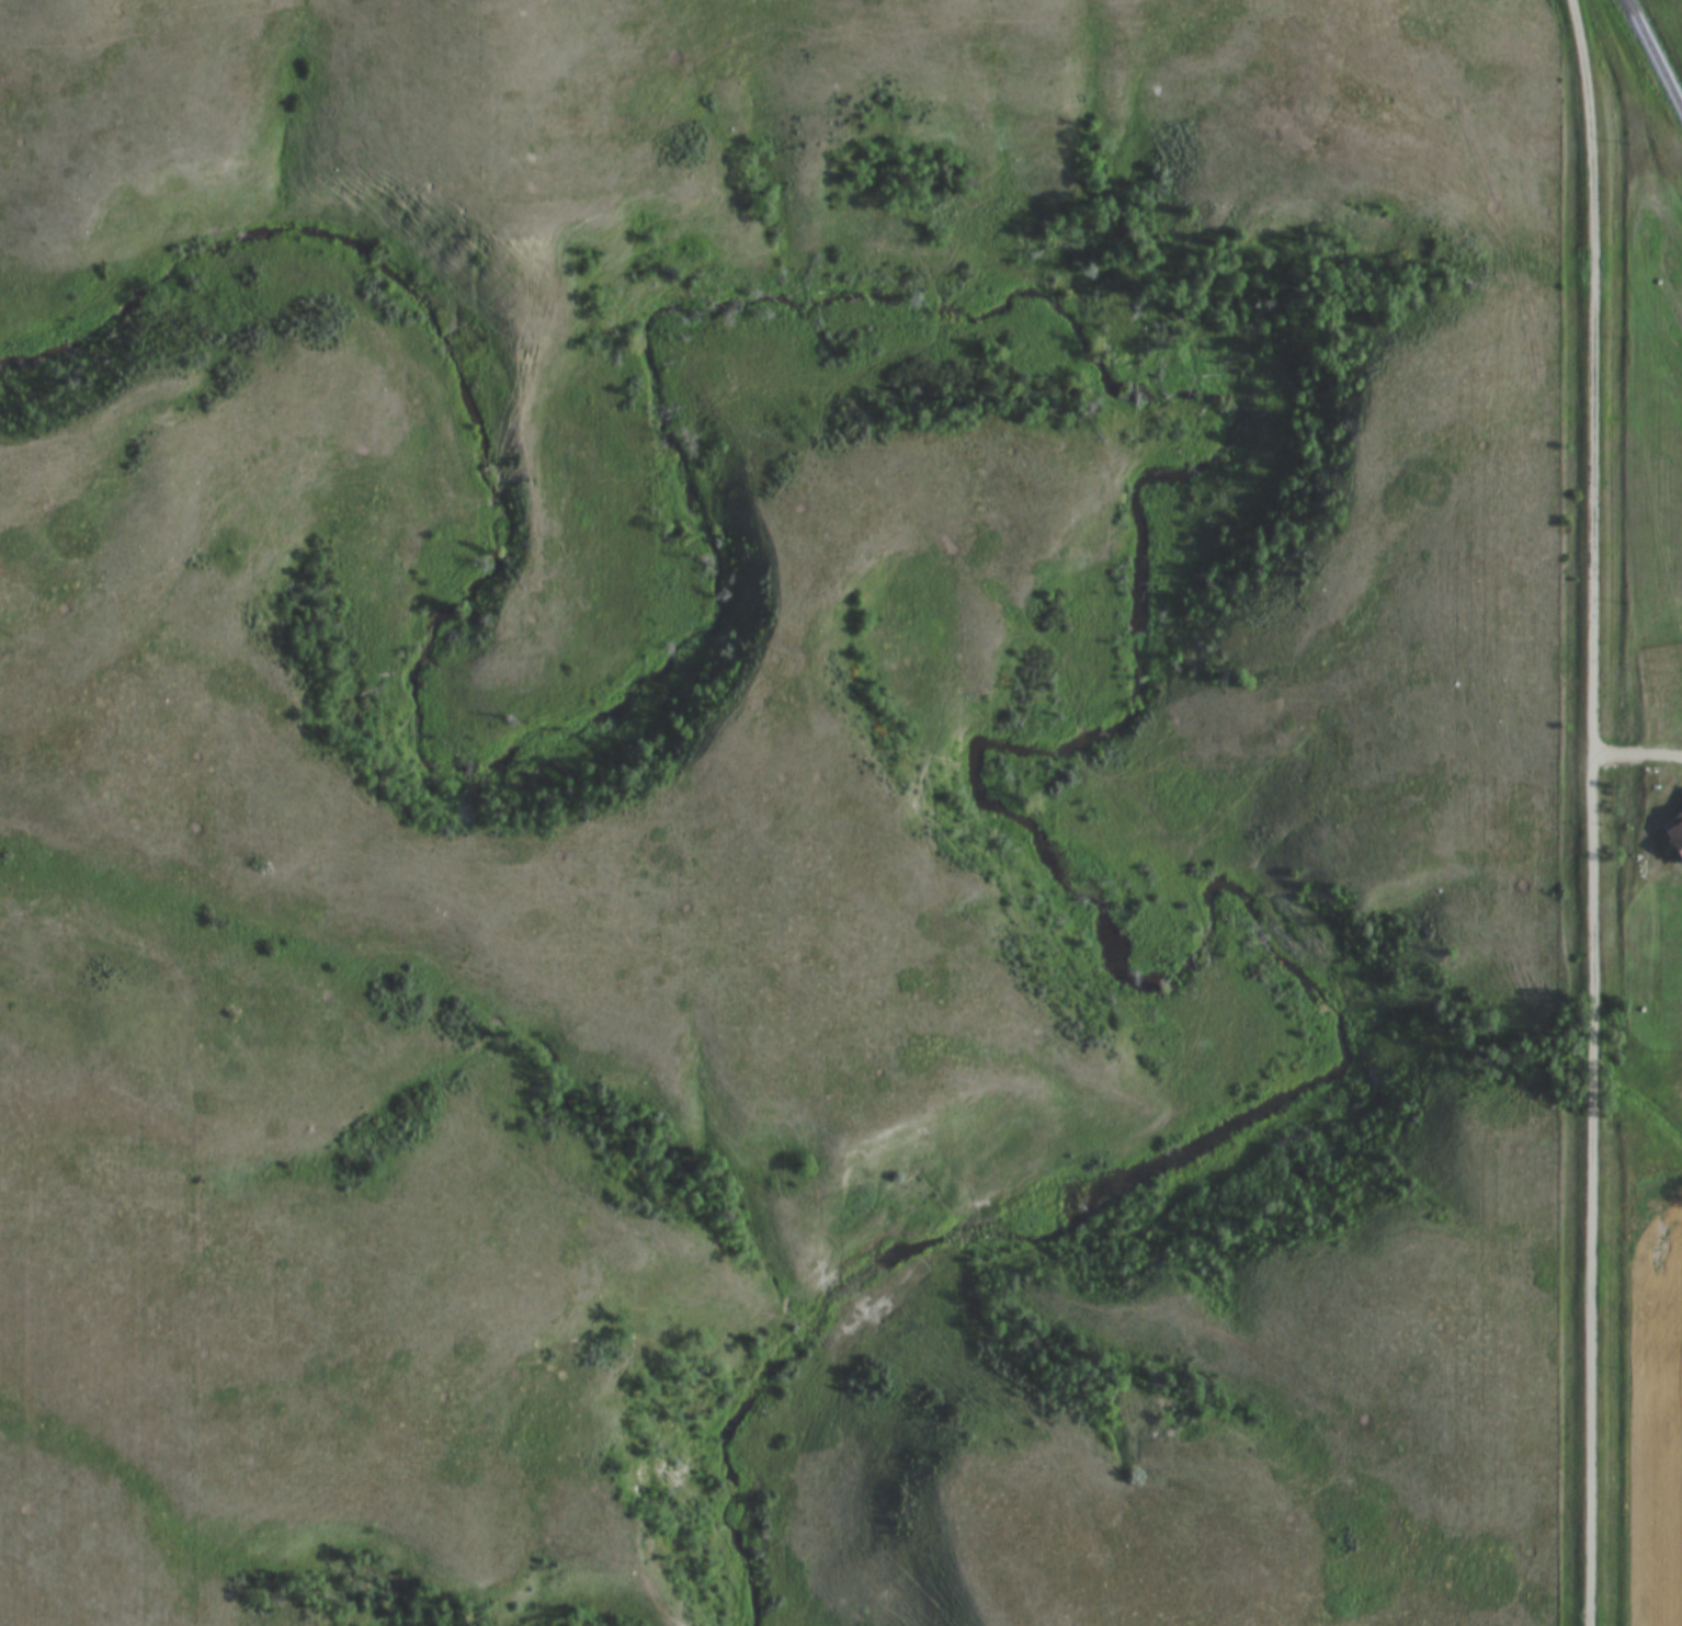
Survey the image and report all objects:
railway: (1653, 55)
road: (1594, 811)

